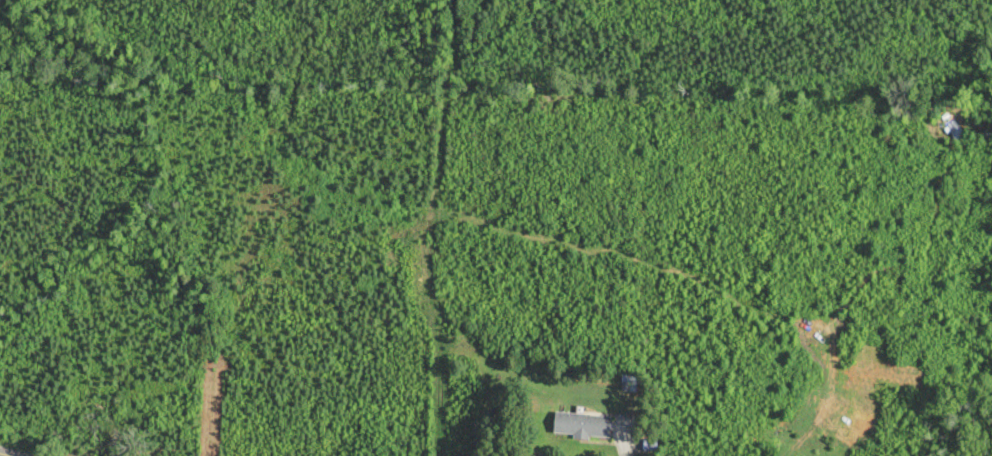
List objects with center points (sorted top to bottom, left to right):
building: (628, 383)
building: (583, 426)
road: (8, 454)

